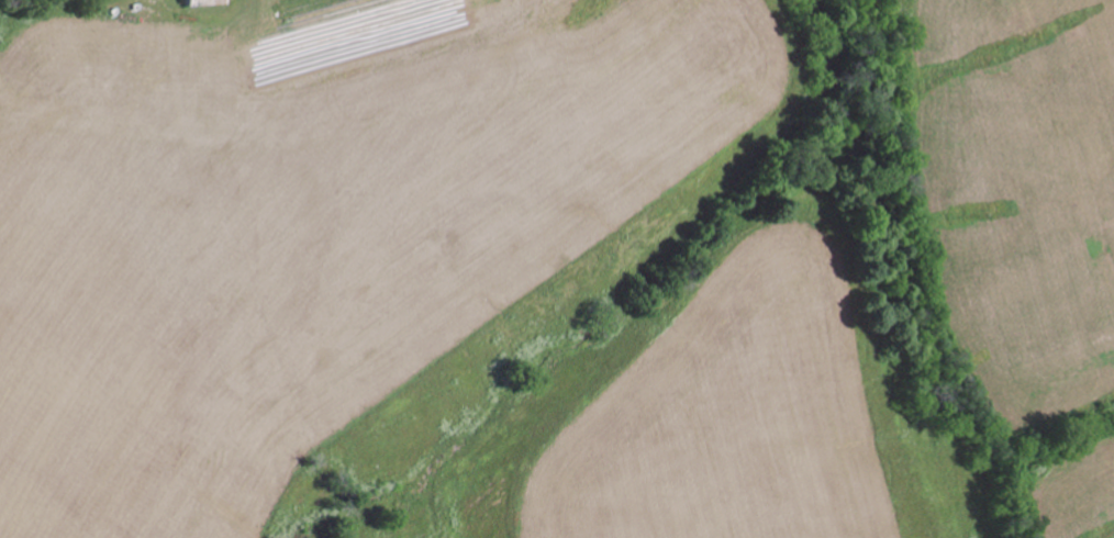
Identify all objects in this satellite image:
building: (207, 2)

